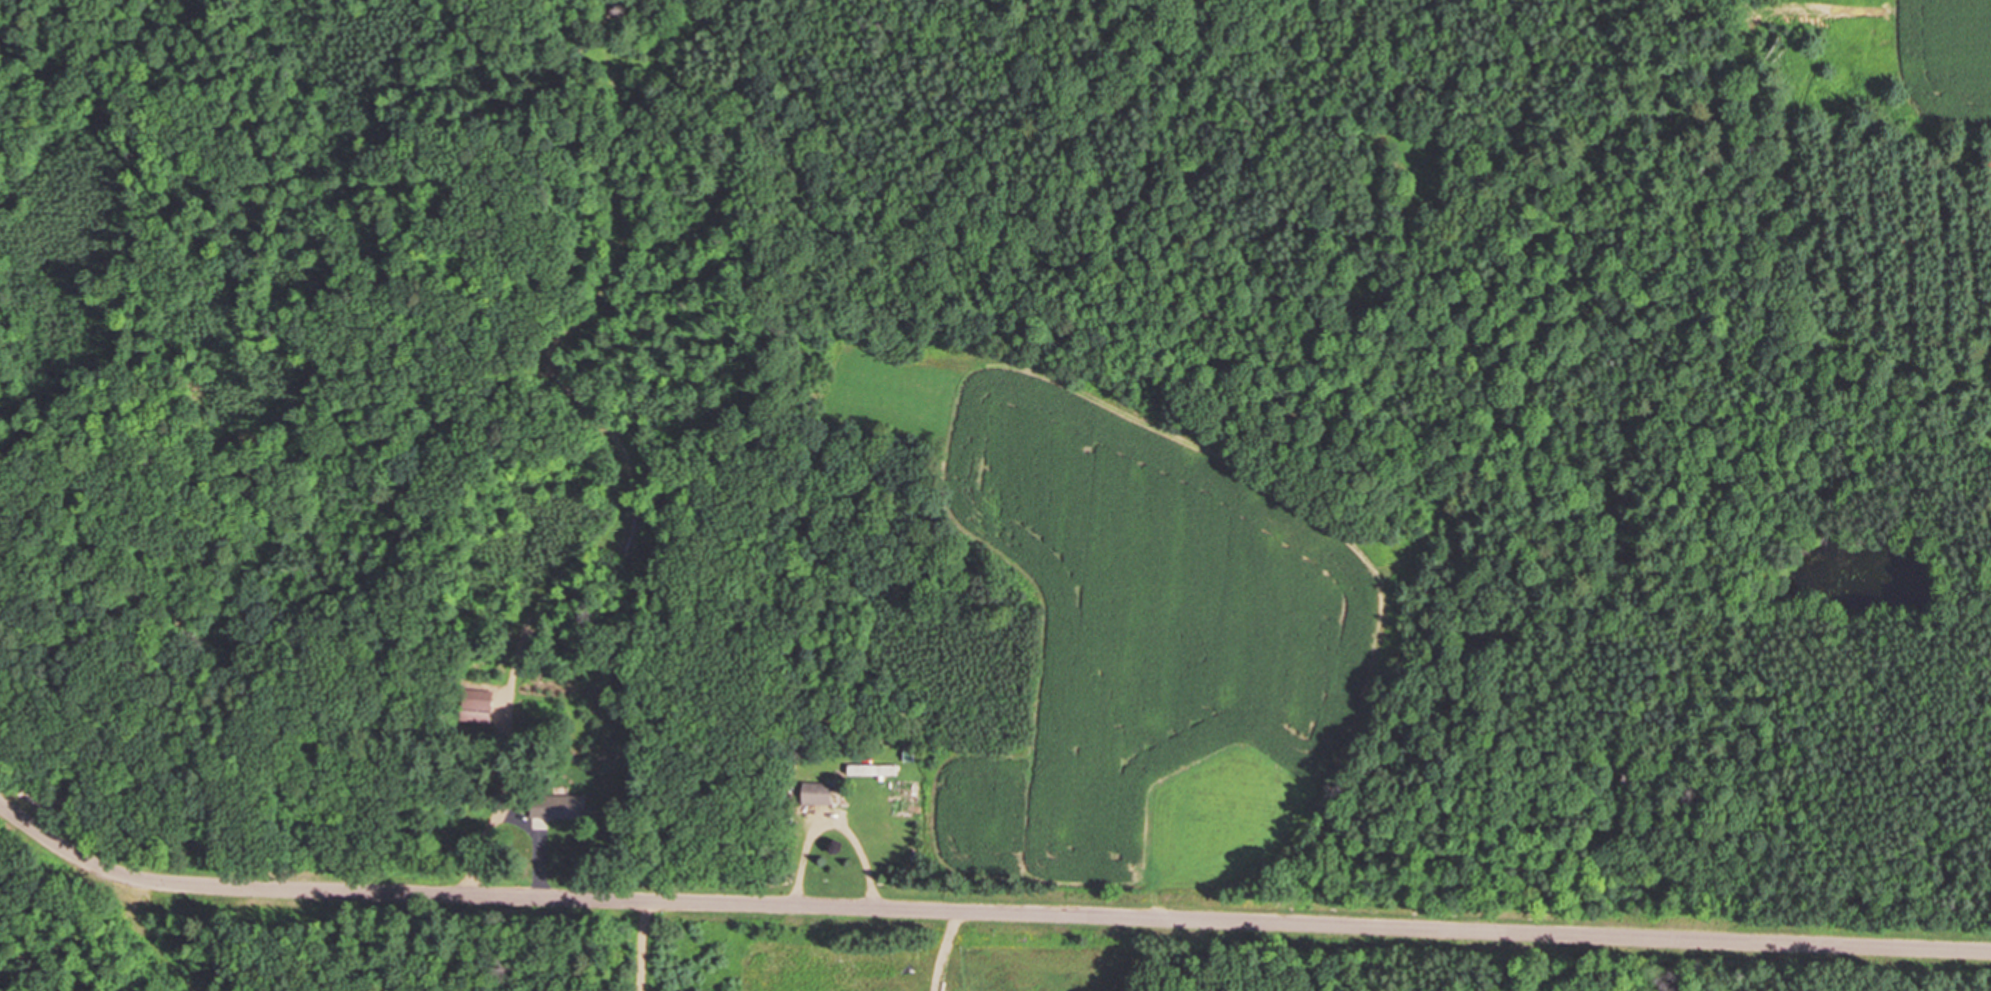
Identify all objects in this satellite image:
building: (489, 703)
building: (870, 770)
building: (813, 793)
building: (555, 807)
road: (985, 911)

